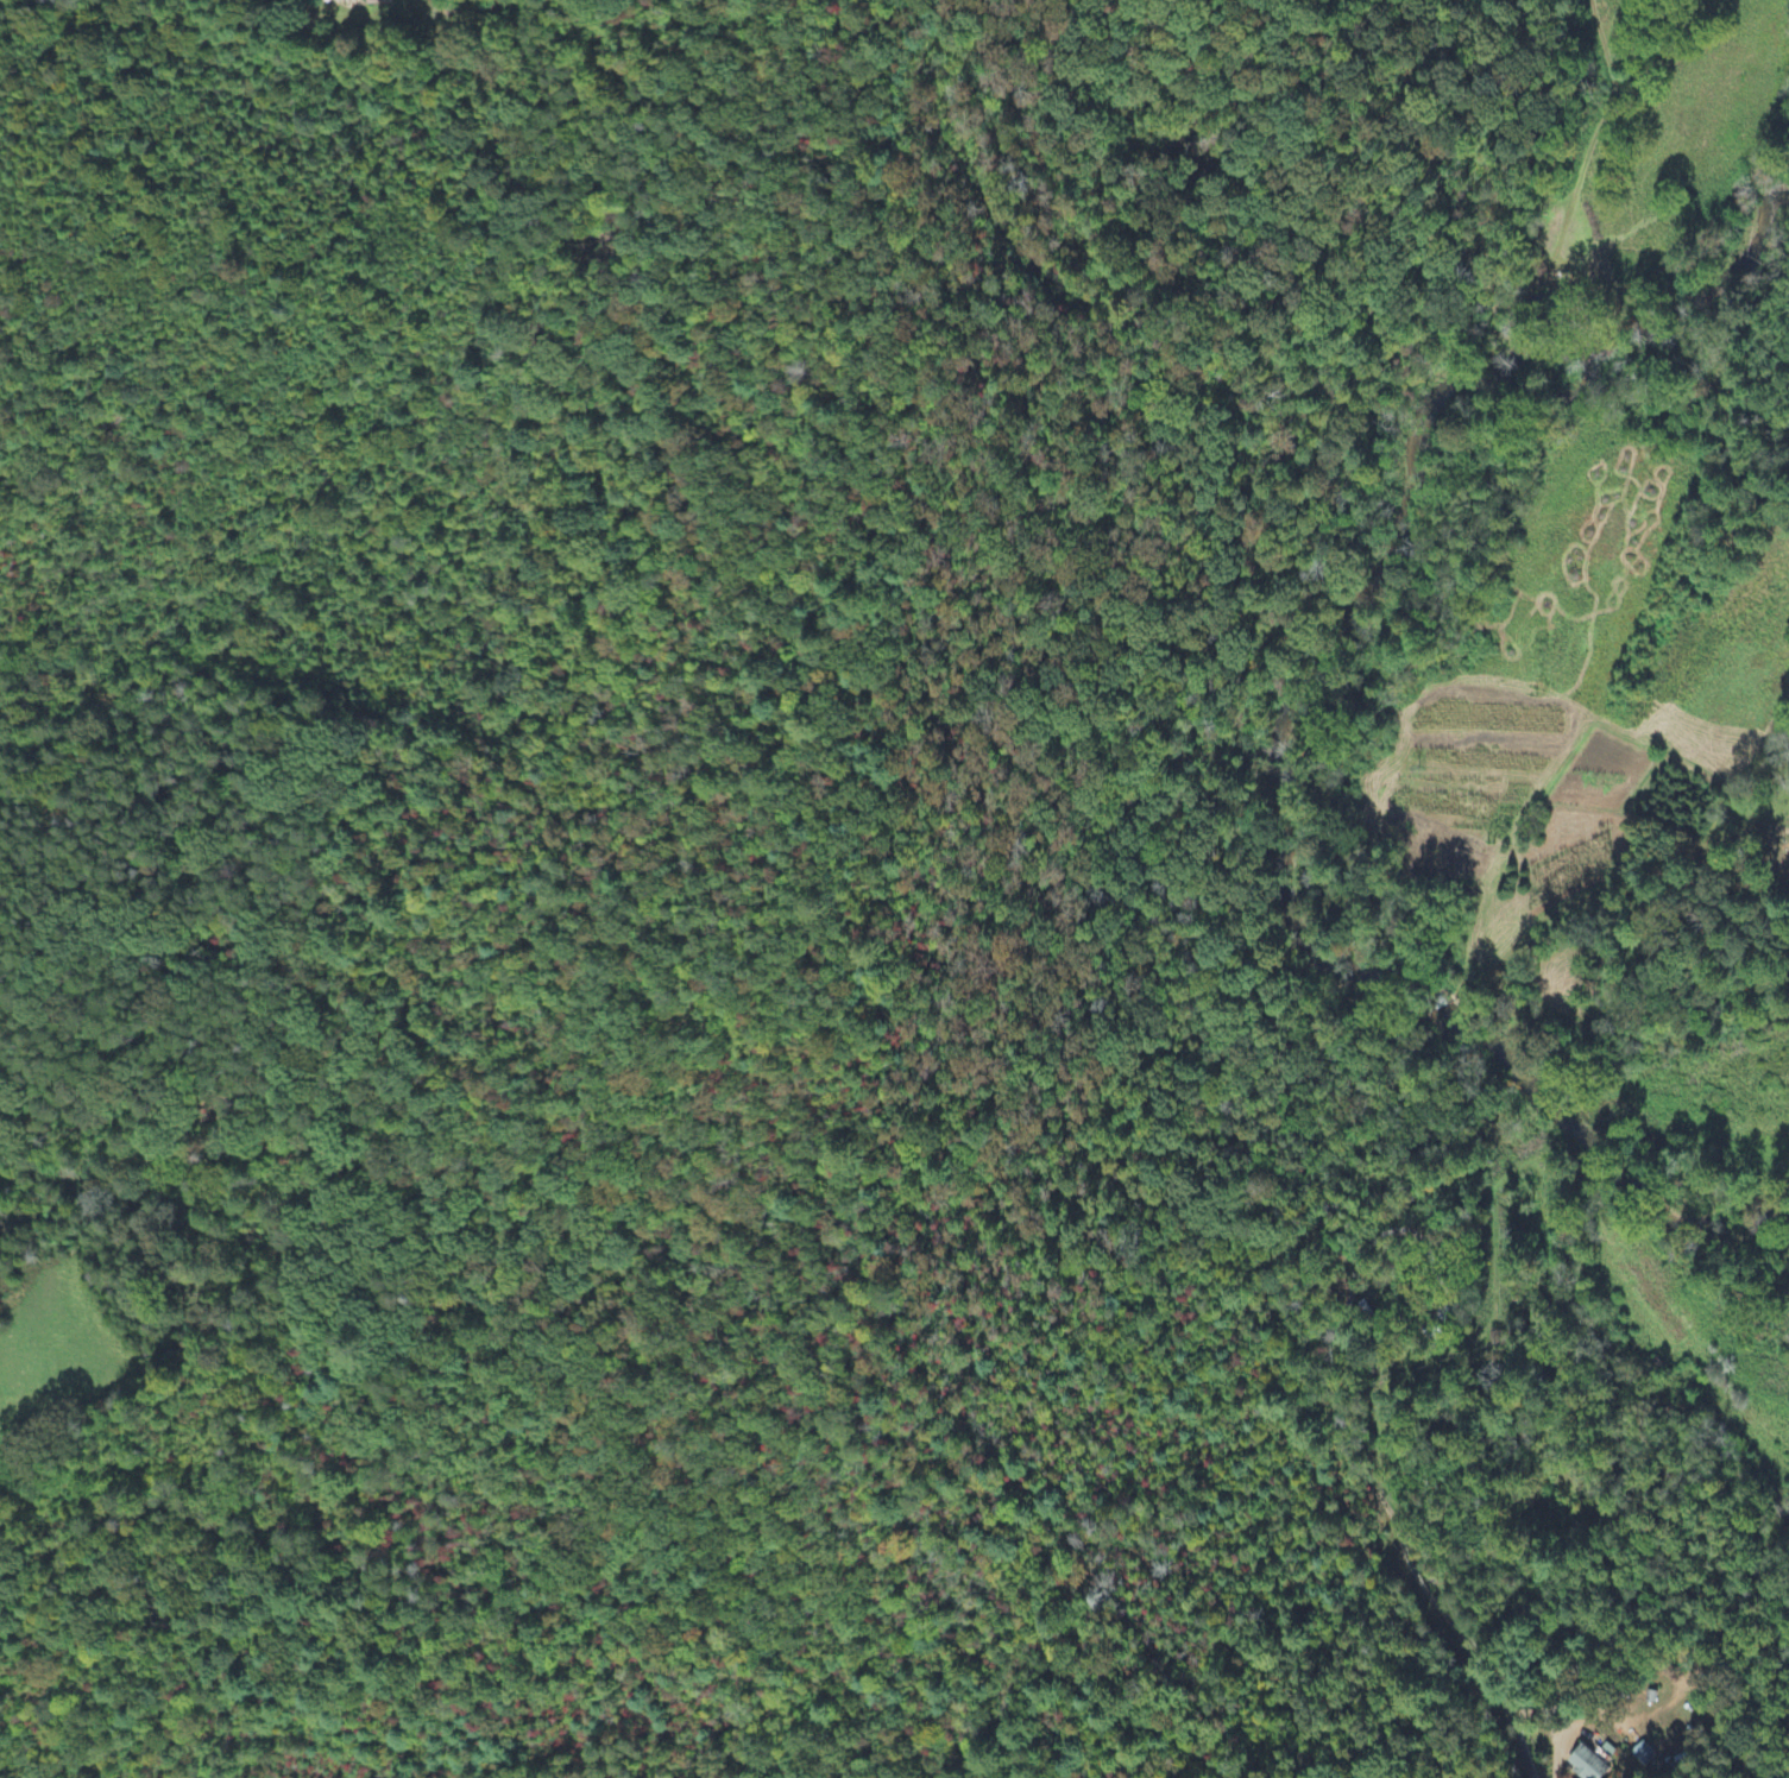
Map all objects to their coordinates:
building: (379, 1)
road: (1358, 96)
road: (1530, 874)
road: (1585, 1003)
road: (1374, 1474)
building: (1588, 1765)

